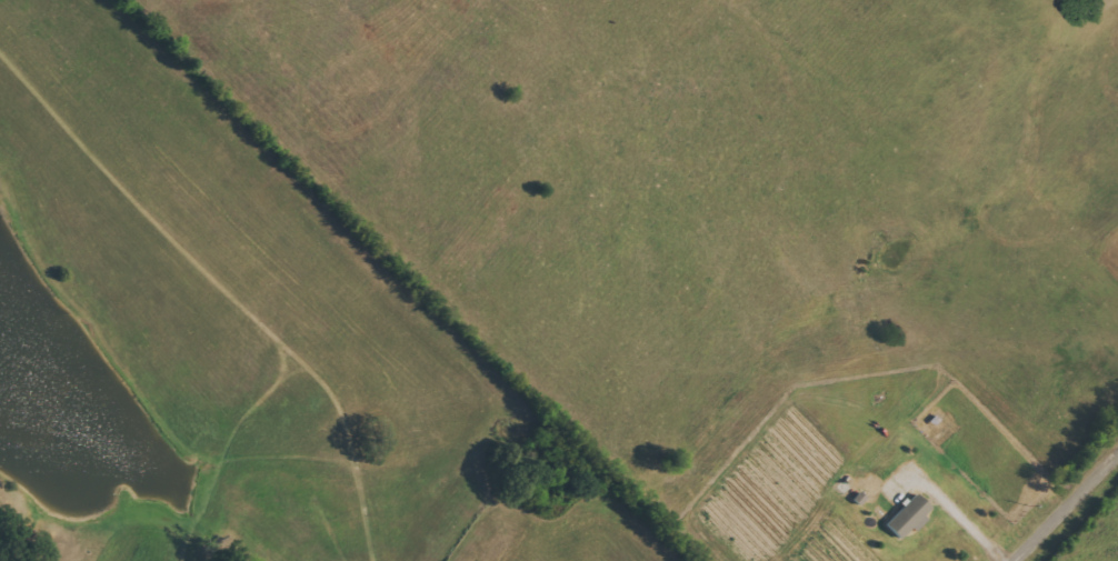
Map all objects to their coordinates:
road: (1068, 509)
road: (961, 512)
building: (910, 515)

